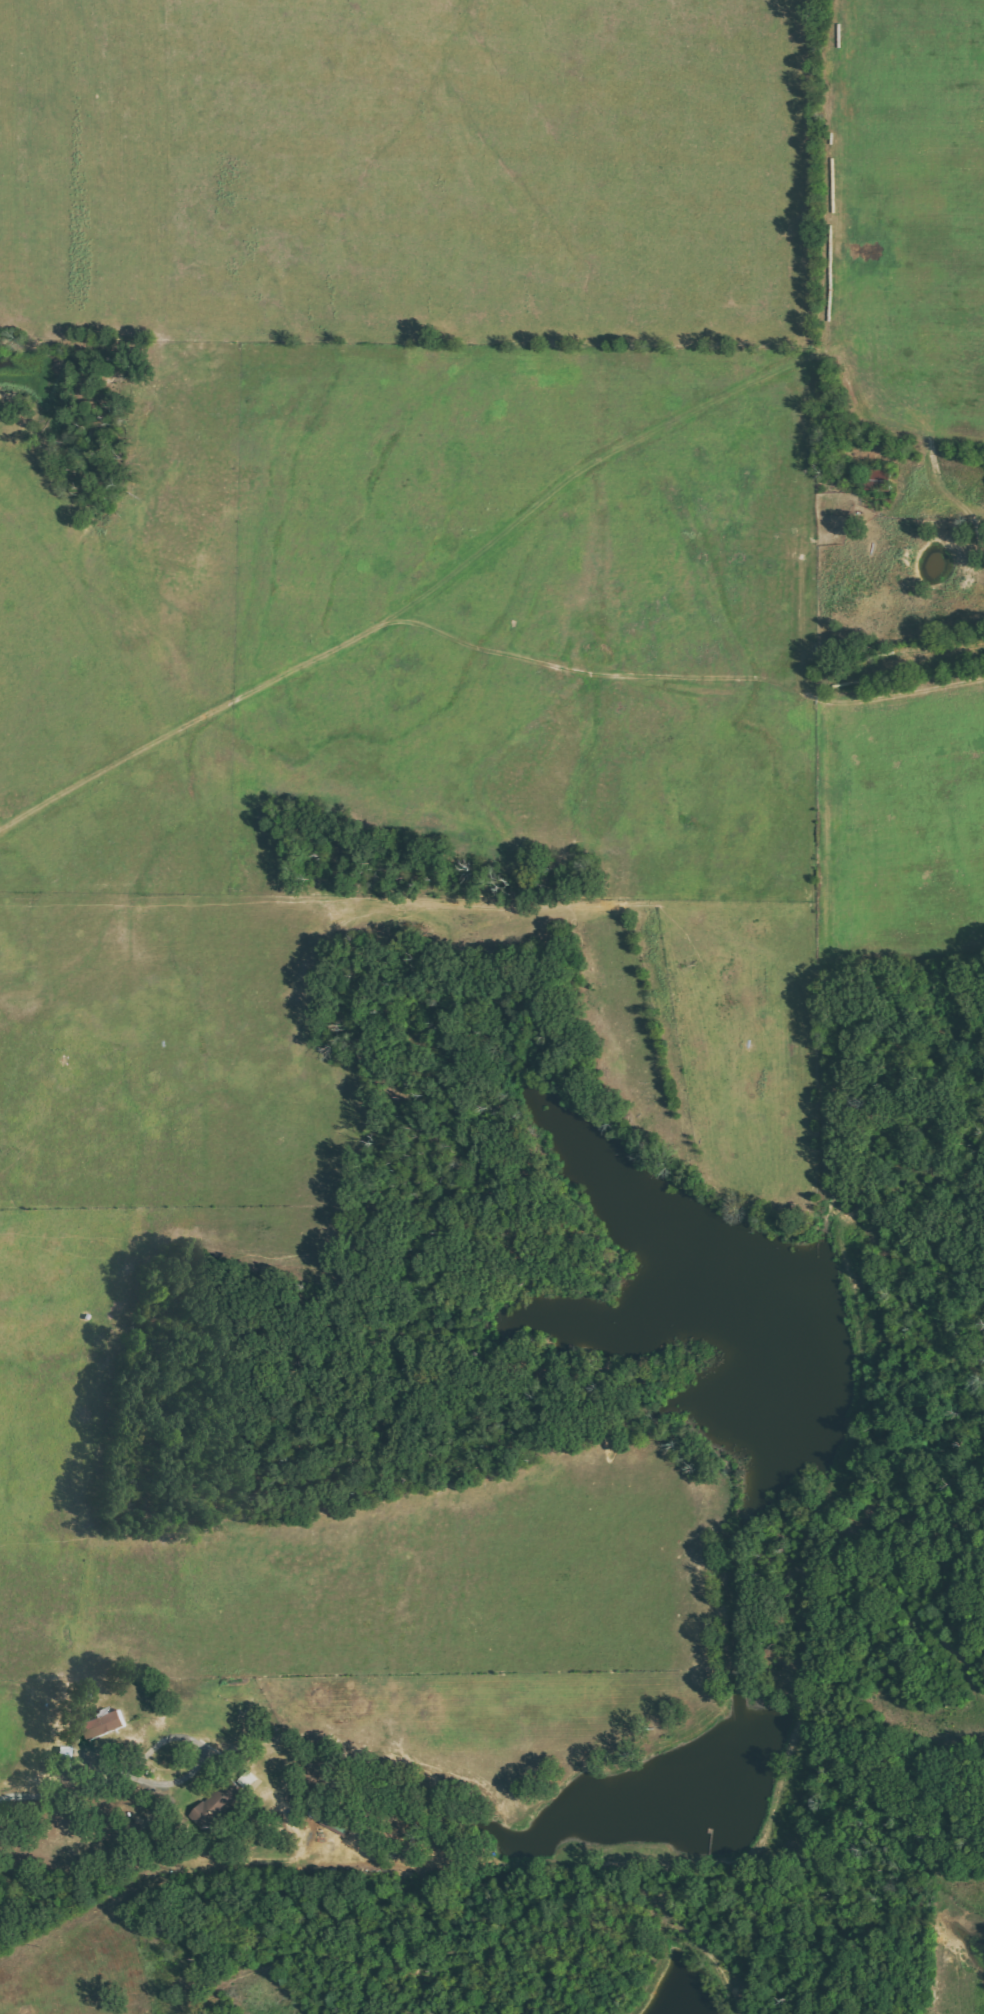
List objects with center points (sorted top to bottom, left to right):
building: (102, 1722)
road: (202, 1751)
road: (60, 1791)
building: (218, 1802)

